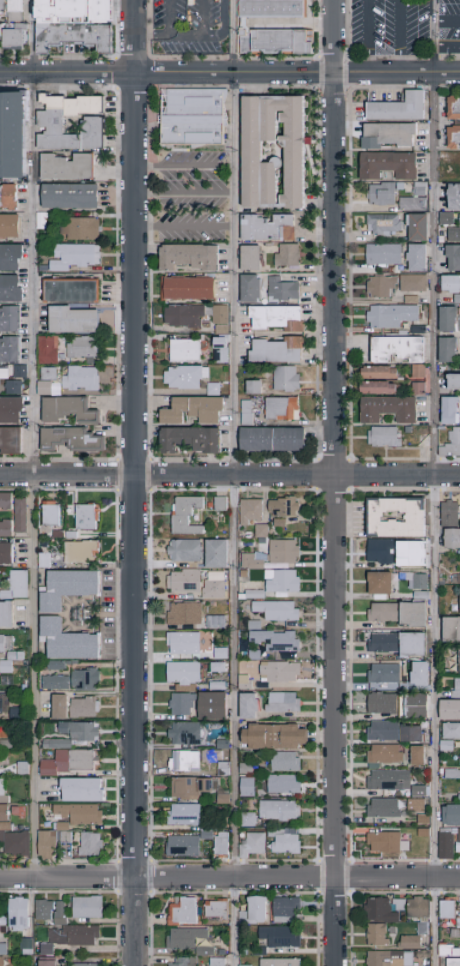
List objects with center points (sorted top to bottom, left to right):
building: (272, 9)
building: (75, 12)
building: (12, 13)
road: (169, 17)
road: (201, 18)
road: (223, 19)
road: (447, 23)
parking lot: (403, 25)
parking lot: (190, 27)
road: (192, 35)
building: (75, 36)
road: (151, 36)
road: (366, 37)
road: (400, 37)
building: (10, 38)
building: (276, 40)
road: (447, 44)
road: (229, 74)
building: (453, 105)
building: (398, 108)
building: (193, 117)
building: (49, 120)
building: (92, 132)
building: (387, 134)
building: (12, 135)
building: (453, 137)
building: (293, 153)
building: (450, 155)
building: (387, 165)
building: (66, 167)
road: (182, 170)
building: (450, 171)
building: (418, 188)
building: (380, 194)
building: (68, 196)
road: (182, 196)
building: (7, 197)
parking lot: (191, 197)
building: (453, 197)
building: (411, 203)
building: (445, 218)
building: (40, 220)
building: (383, 224)
building: (9, 226)
building: (417, 226)
road: (182, 227)
building: (80, 228)
building: (266, 228)
building: (454, 232)
building: (383, 253)
building: (73, 256)
building: (284, 256)
building: (10, 257)
building: (188, 257)
building: (416, 257)
building: (453, 257)
building: (249, 258)
building: (412, 282)
building: (450, 283)
building: (380, 286)
building: (10, 288)
building: (186, 288)
building: (249, 288)
building: (281, 289)
building: (69, 291)
building: (219, 314)
building: (182, 315)
building: (390, 315)
building: (276, 318)
building: (9, 319)
building: (447, 319)
building: (71, 320)
building: (9, 349)
building: (46, 349)
building: (81, 349)
building: (397, 349)
building: (183, 350)
building: (276, 350)
building: (446, 350)
building: (19, 371)
building: (417, 371)
building: (378, 372)
building: (46, 373)
building: (183, 376)
building: (285, 377)
building: (79, 378)
building: (453, 382)
building: (12, 387)
building: (252, 387)
building: (377, 387)
building: (417, 388)
building: (281, 408)
building: (387, 409)
building: (10, 410)
building: (67, 410)
building: (192, 410)
building: (449, 410)
building: (383, 436)
road: (33, 438)
building: (271, 439)
building: (10, 440)
building: (69, 440)
building: (188, 440)
building: (451, 443)
road: (230, 474)
road: (135, 482)
road: (232, 482)
road: (333, 482)
road: (433, 482)
building: (5, 499)
building: (282, 506)
building: (249, 509)
building: (50, 512)
building: (449, 513)
building: (19, 514)
building: (185, 514)
building: (85, 516)
building: (395, 516)
building: (278, 521)
building: (5, 527)
building: (451, 537)
building: (183, 549)
building: (282, 549)
building: (79, 550)
building: (380, 550)
building: (5, 552)
building: (215, 552)
building: (252, 560)
building: (182, 580)
building: (419, 580)
building: (281, 581)
building: (379, 581)
building: (16, 584)
building: (213, 584)
building: (66, 586)
building: (254, 593)
building: (459, 598)
building: (275, 609)
building: (382, 611)
building: (5, 612)
building: (184, 612)
building: (412, 613)
building: (214, 621)
building: (253, 624)
building: (450, 627)
building: (66, 639)
building: (275, 639)
building: (382, 641)
building: (4, 642)
building: (183, 642)
building: (411, 642)
building: (9, 660)
building: (459, 660)
building: (278, 670)
building: (182, 671)
building: (383, 672)
building: (418, 672)
building: (84, 678)
building: (54, 681)
building: (243, 681)
building: (456, 686)
building: (282, 701)
building: (381, 702)
building: (181, 703)
building: (211, 704)
building: (247, 704)
building: (414, 704)
building: (58, 705)
building: (82, 707)
building: (449, 708)
building: (15, 712)
building: (78, 729)
building: (382, 729)
building: (450, 730)
building: (184, 732)
building: (410, 732)
building: (272, 735)
building: (55, 743)
building: (384, 753)
building: (416, 754)
building: (214, 755)
building: (180, 759)
building: (283, 760)
building: (68, 761)
building: (459, 762)
building: (21, 766)
building: (453, 773)
building: (388, 779)
building: (282, 783)
building: (189, 786)
building: (81, 788)
building: (2, 790)
building: (418, 790)
building: (414, 804)
building: (383, 807)
building: (278, 809)
building: (3, 812)
building: (183, 813)
building: (451, 814)
building: (247, 818)
building: (422, 818)
building: (285, 841)
building: (16, 842)
building: (46, 842)
building: (221, 842)
building: (386, 842)
building: (448, 842)
building: (89, 843)
building: (251, 844)
building: (180, 845)
road: (230, 877)
building: (89, 908)
building: (420, 909)
building: (448, 910)
building: (46, 911)
building: (219, 911)
building: (287, 911)
building: (385, 911)
building: (256, 912)
building: (185, 913)
building: (20, 915)
building: (62, 915)
building: (3, 922)
building: (459, 924)
building: (424, 930)
building: (456, 935)
building: (76, 936)
building: (378, 936)
building: (282, 937)
building: (187, 939)
building: (411, 944)
building: (28, 948)
building: (4, 950)
building: (49, 951)
building: (207, 952)
building: (449, 952)
building: (423, 955)
building: (391, 959)
building: (3, 962)
building: (49, 962)
building: (187, 962)
building: (219, 963)
building: (282, 963)
building: (454, 963)
building: (85, 964)
building: (172, 965)
building: (244, 965)

